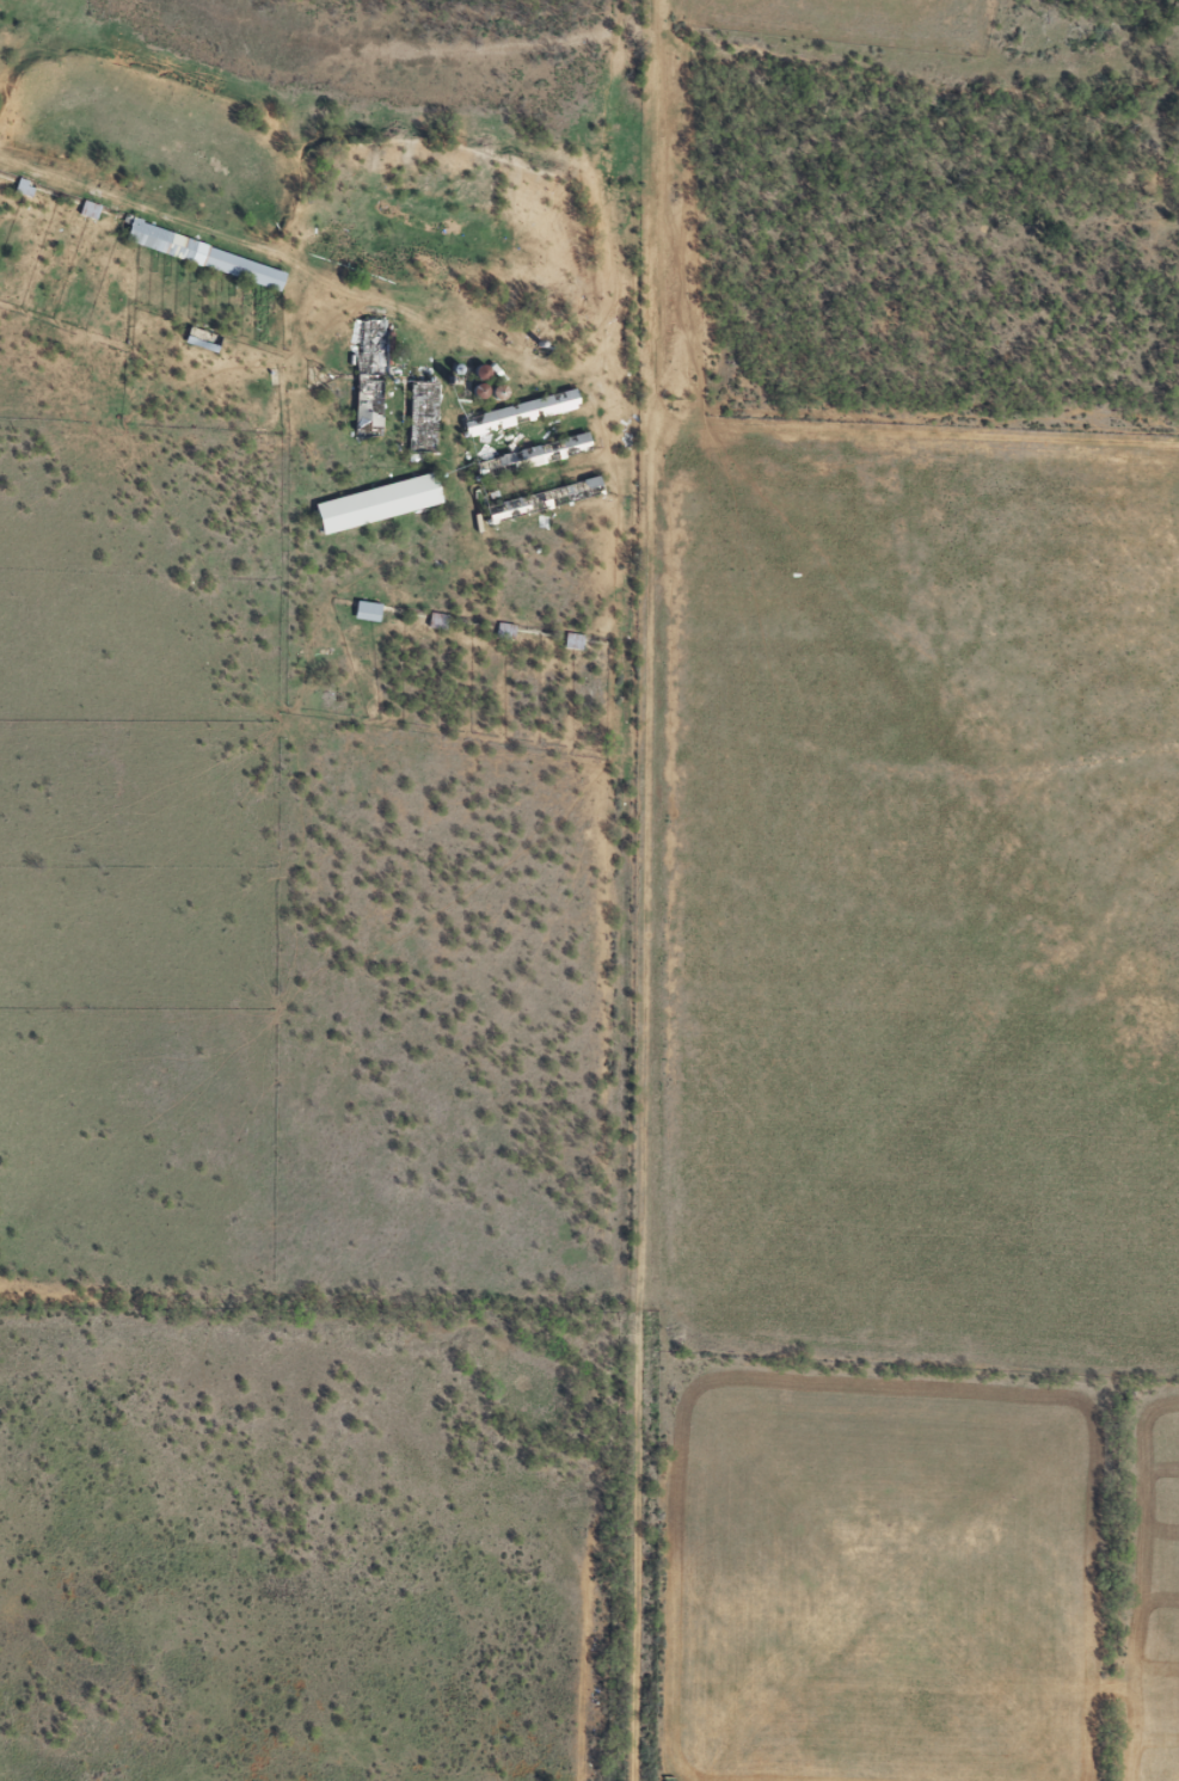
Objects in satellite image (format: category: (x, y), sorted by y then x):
building: (26, 186)
building: (92, 208)
road: (217, 235)
building: (208, 256)
building: (370, 377)
building: (523, 411)
building: (424, 416)
building: (535, 455)
building: (545, 499)
building: (380, 502)
building: (368, 610)
building: (575, 639)
road: (632, 890)

